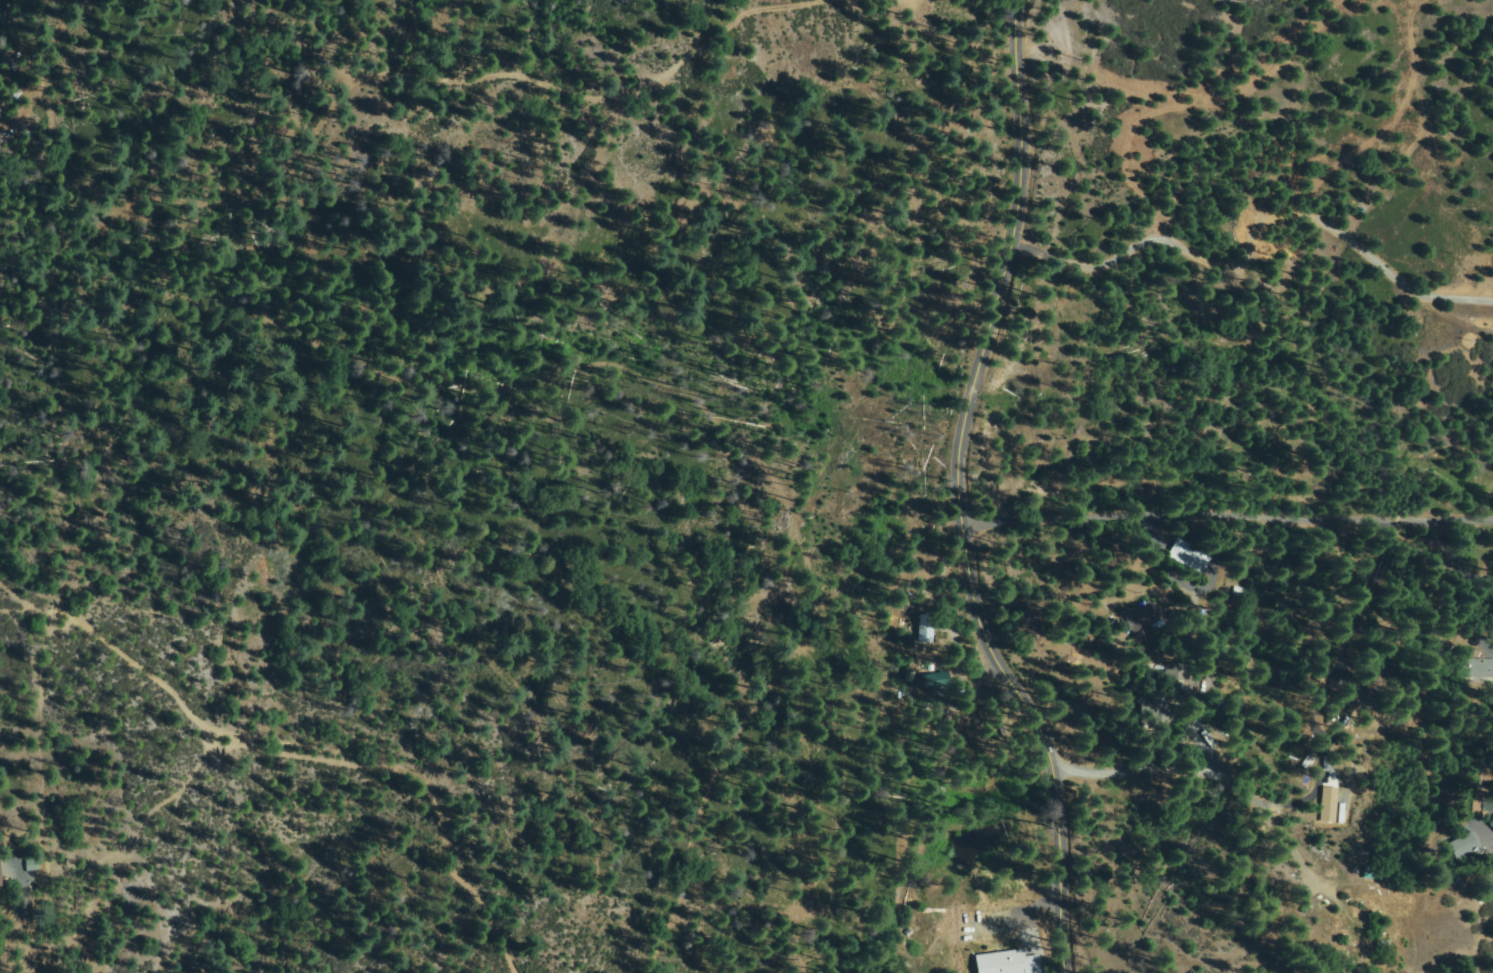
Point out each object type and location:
road: (961, 492)
road: (1229, 524)
building: (1190, 555)
building: (1240, 591)
building: (1142, 620)
building: (925, 627)
building: (1476, 667)
building: (1176, 672)
building: (1321, 676)
building: (936, 680)
building: (1356, 701)
building: (1155, 709)
building: (1332, 712)
road: (306, 748)
building: (1481, 808)
building: (1491, 824)
building: (1464, 845)
building: (33, 864)
building: (1383, 873)
building: (0, 878)
building: (927, 938)
building: (1382, 946)
building: (932, 951)
building: (1370, 955)
building: (1019, 961)

